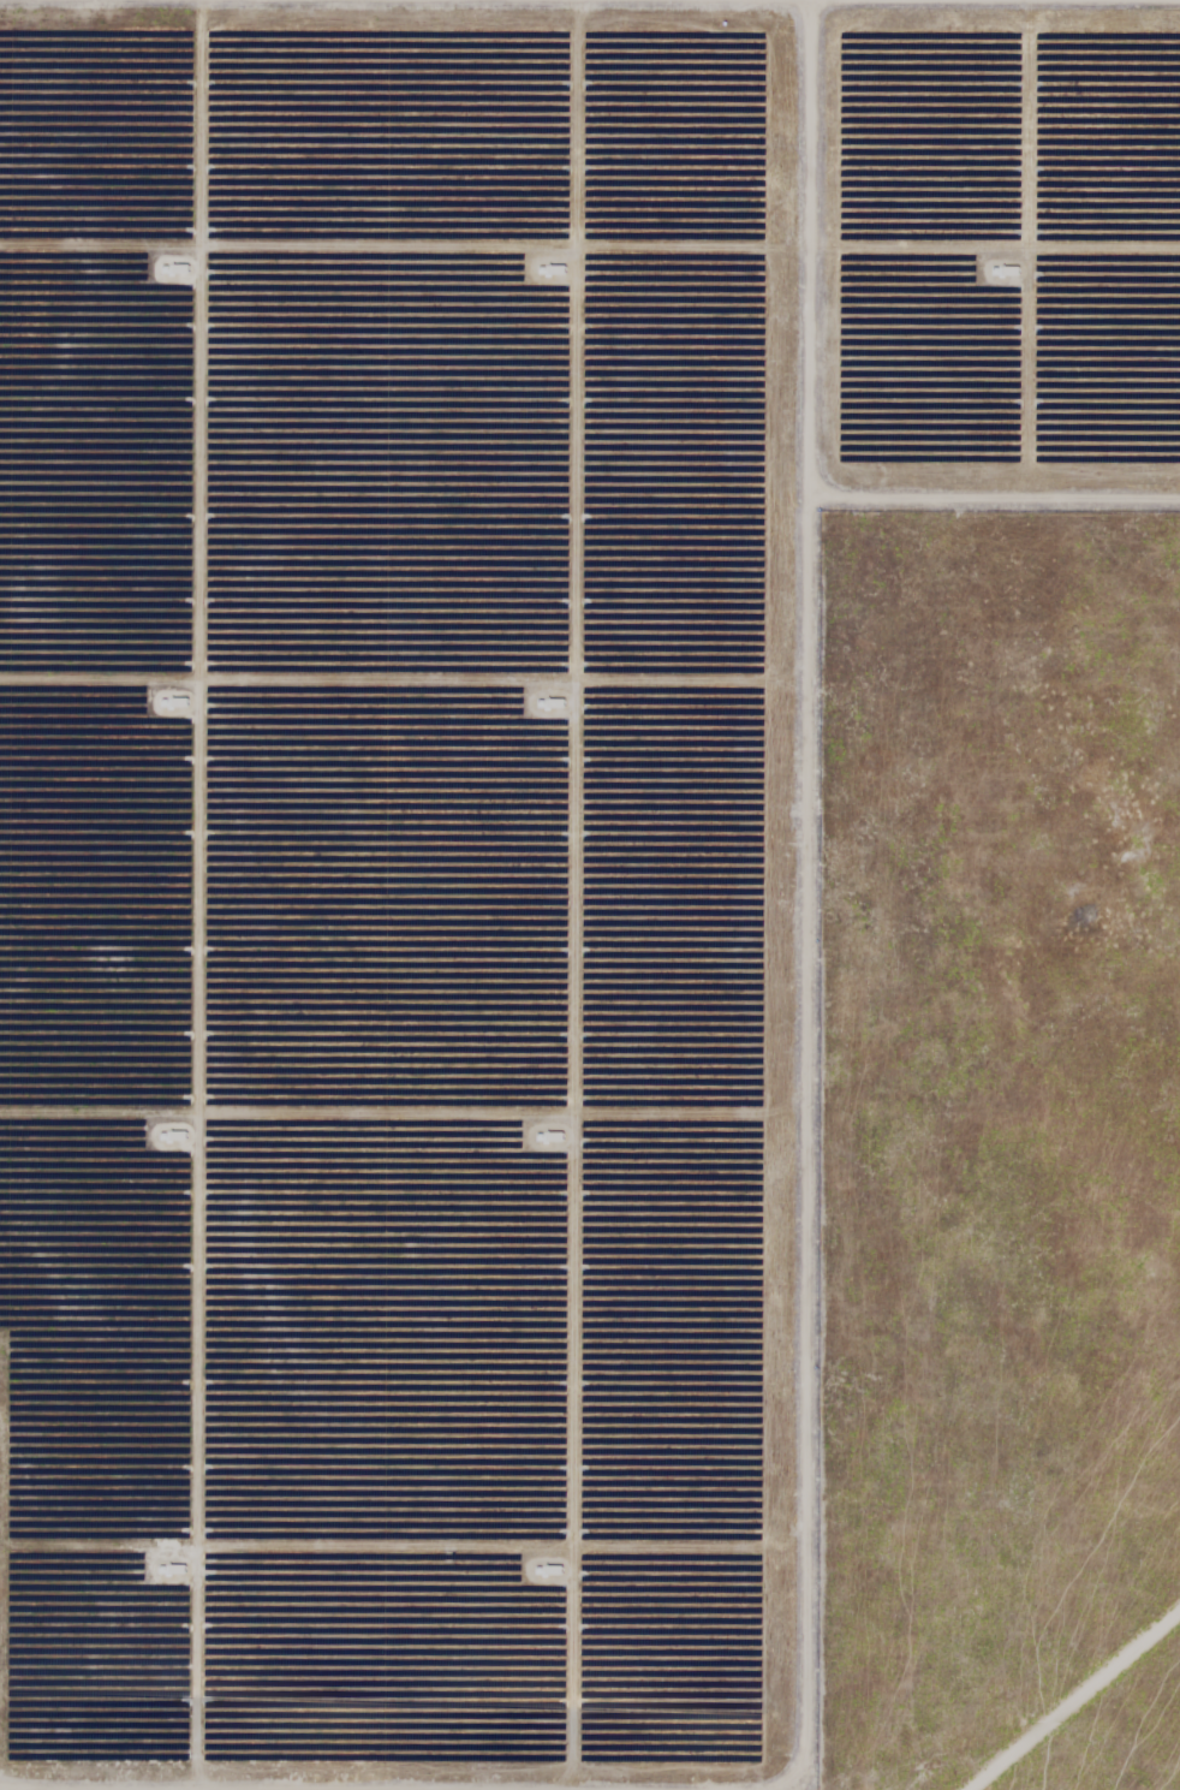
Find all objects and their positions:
road: (590, 61)
solar farm: (590, 894)

